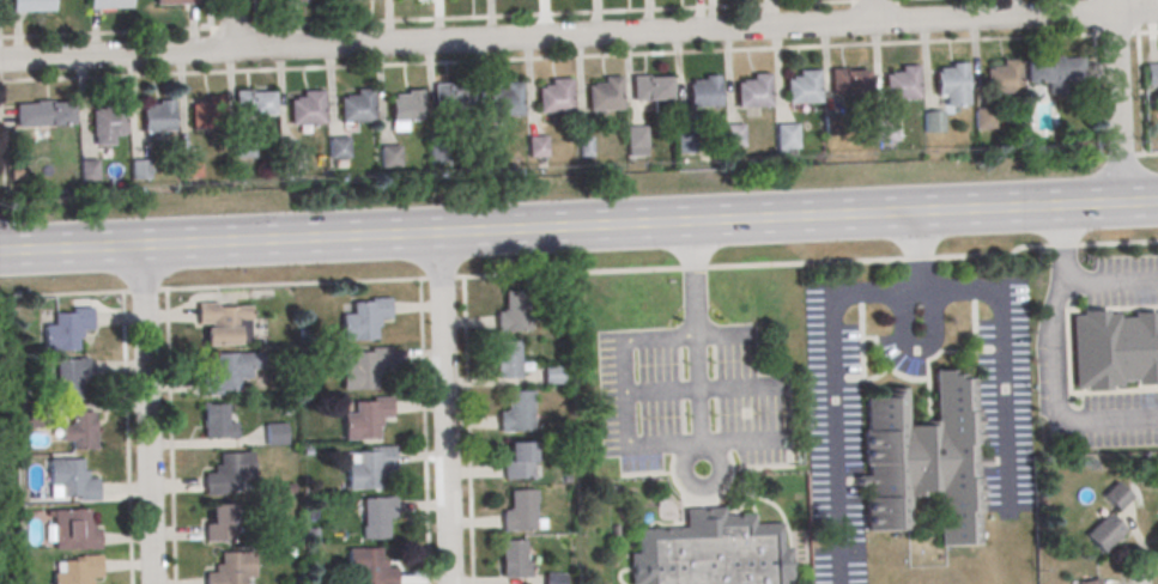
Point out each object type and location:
building: (290, 0)
road: (851, 1)
building: (176, 2)
building: (110, 5)
building: (32, 6)
road: (874, 11)
road: (212, 14)
road: (425, 20)
road: (231, 25)
road: (578, 35)
road: (1107, 35)
road: (566, 57)
building: (1054, 74)
building: (1151, 77)
building: (1004, 79)
building: (848, 84)
building: (902, 86)
building: (952, 86)
building: (649, 90)
building: (802, 90)
building: (704, 93)
building: (753, 93)
building: (605, 97)
building: (451, 98)
building: (554, 98)
road: (1116, 101)
building: (505, 102)
building: (253, 105)
building: (357, 109)
building: (406, 109)
building: (307, 110)
building: (208, 115)
building: (46, 116)
building: (159, 118)
building: (983, 120)
building: (109, 124)
building: (933, 124)
building: (835, 127)
building: (885, 132)
building: (735, 136)
building: (787, 138)
building: (636, 142)
building: (685, 145)
building: (242, 148)
building: (536, 148)
building: (339, 150)
building: (586, 150)
building: (438, 151)
building: (487, 152)
road: (1138, 157)
building: (389, 158)
building: (291, 163)
building: (189, 169)
building: (90, 171)
building: (141, 171)
road: (578, 225)
road: (580, 273)
road: (1109, 280)
building: (514, 314)
building: (364, 321)
building: (224, 326)
building: (68, 331)
road: (722, 335)
road: (917, 346)
building: (1114, 352)
road: (1004, 355)
road: (830, 357)
road: (1054, 360)
building: (507, 361)
parking lot: (1051, 370)
building: (364, 371)
building: (229, 373)
building: (553, 373)
building: (71, 377)
road: (699, 387)
road: (698, 389)
road: (618, 401)
road: (444, 407)
road: (146, 414)
building: (517, 414)
building: (365, 420)
building: (217, 424)
parking lot: (835, 428)
road: (423, 431)
road: (467, 431)
building: (80, 432)
building: (275, 434)
road: (169, 437)
road: (127, 438)
road: (750, 439)
building: (922, 462)
building: (519, 463)
building: (369, 469)
building: (229, 475)
building: (73, 481)
building: (1117, 497)
building: (520, 513)
building: (376, 518)
building: (220, 527)
building: (73, 533)
building: (1104, 534)
building: (713, 552)
road: (1132, 554)
building: (514, 562)
building: (369, 567)
building: (232, 570)
building: (79, 571)
building: (553, 579)
building: (1092, 583)

